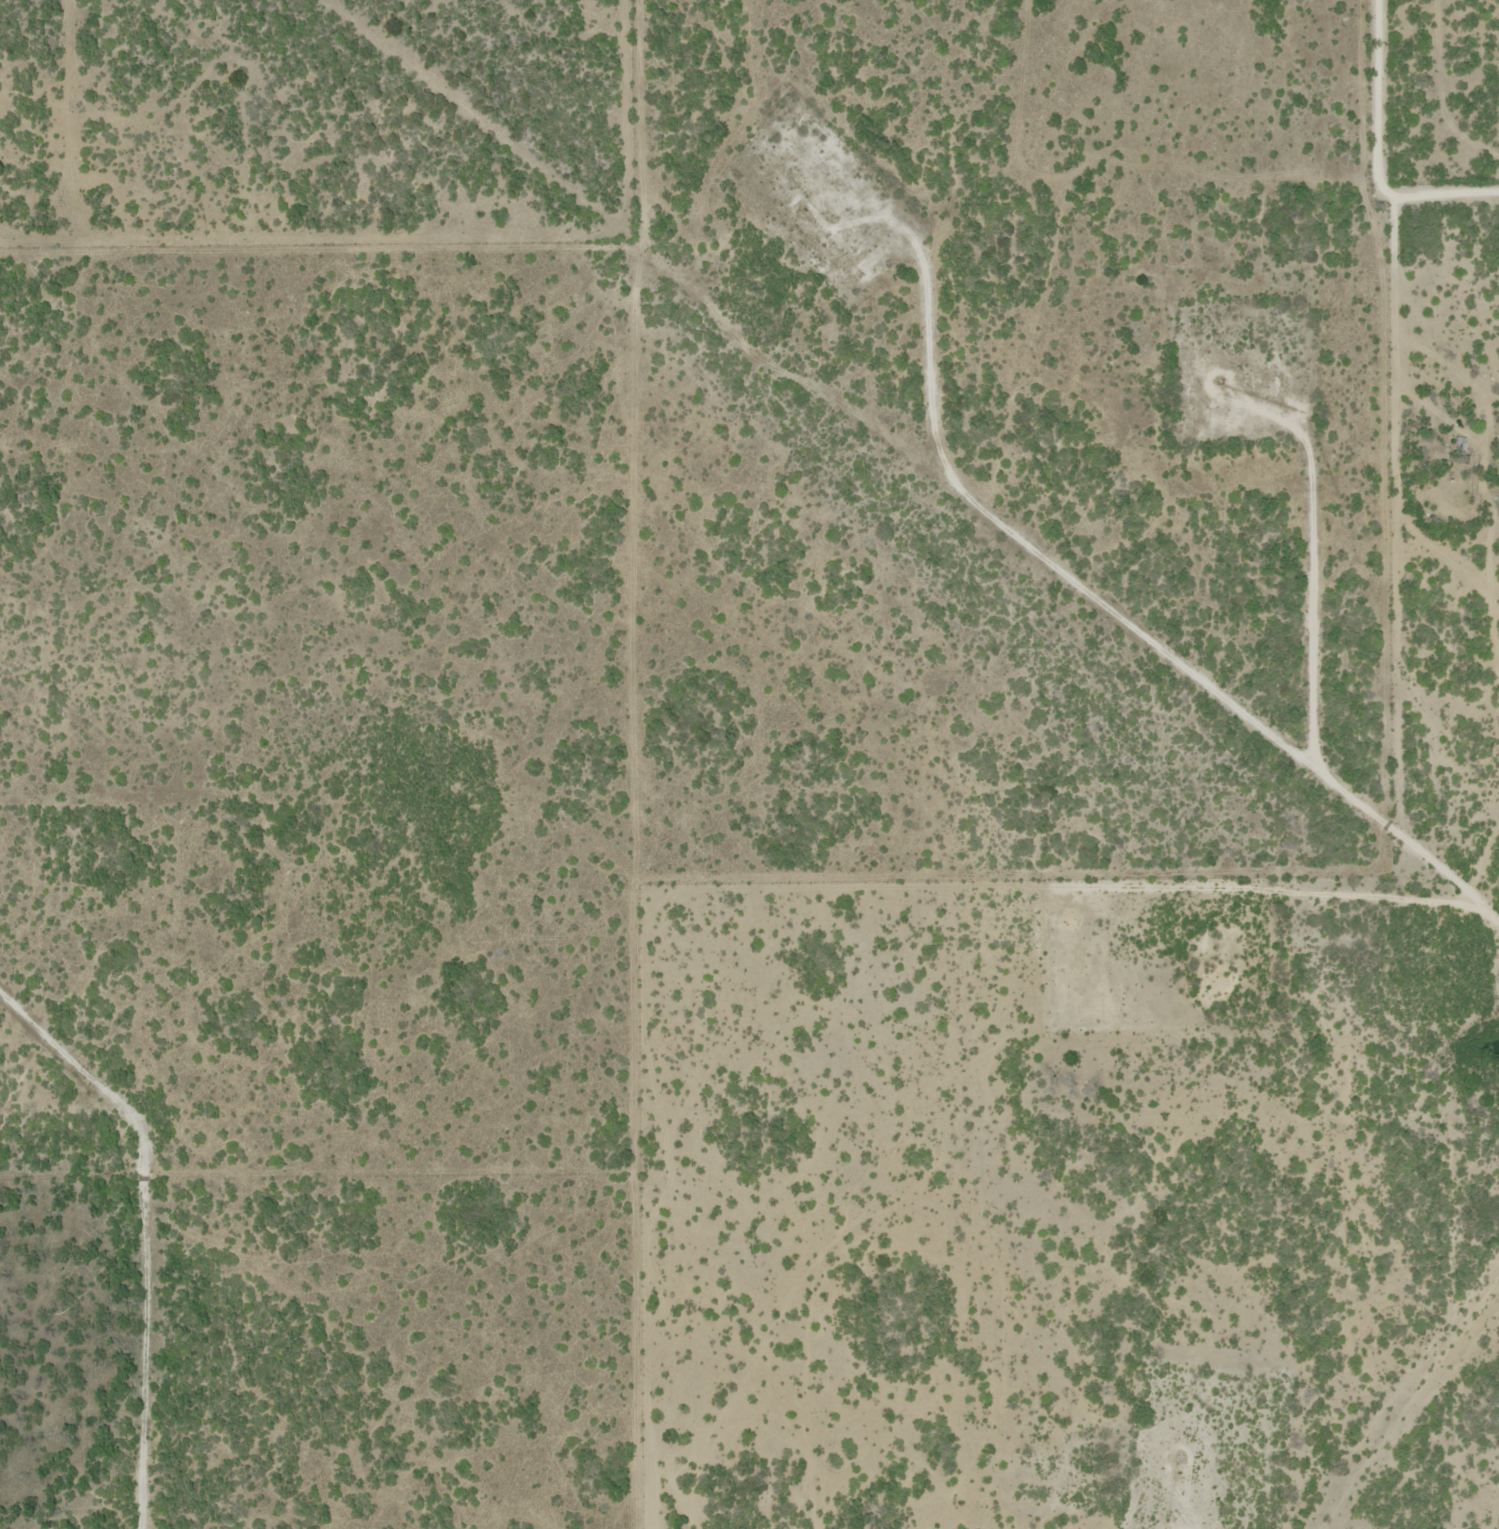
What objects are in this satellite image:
road: (1360, 140)
building: (1457, 444)

